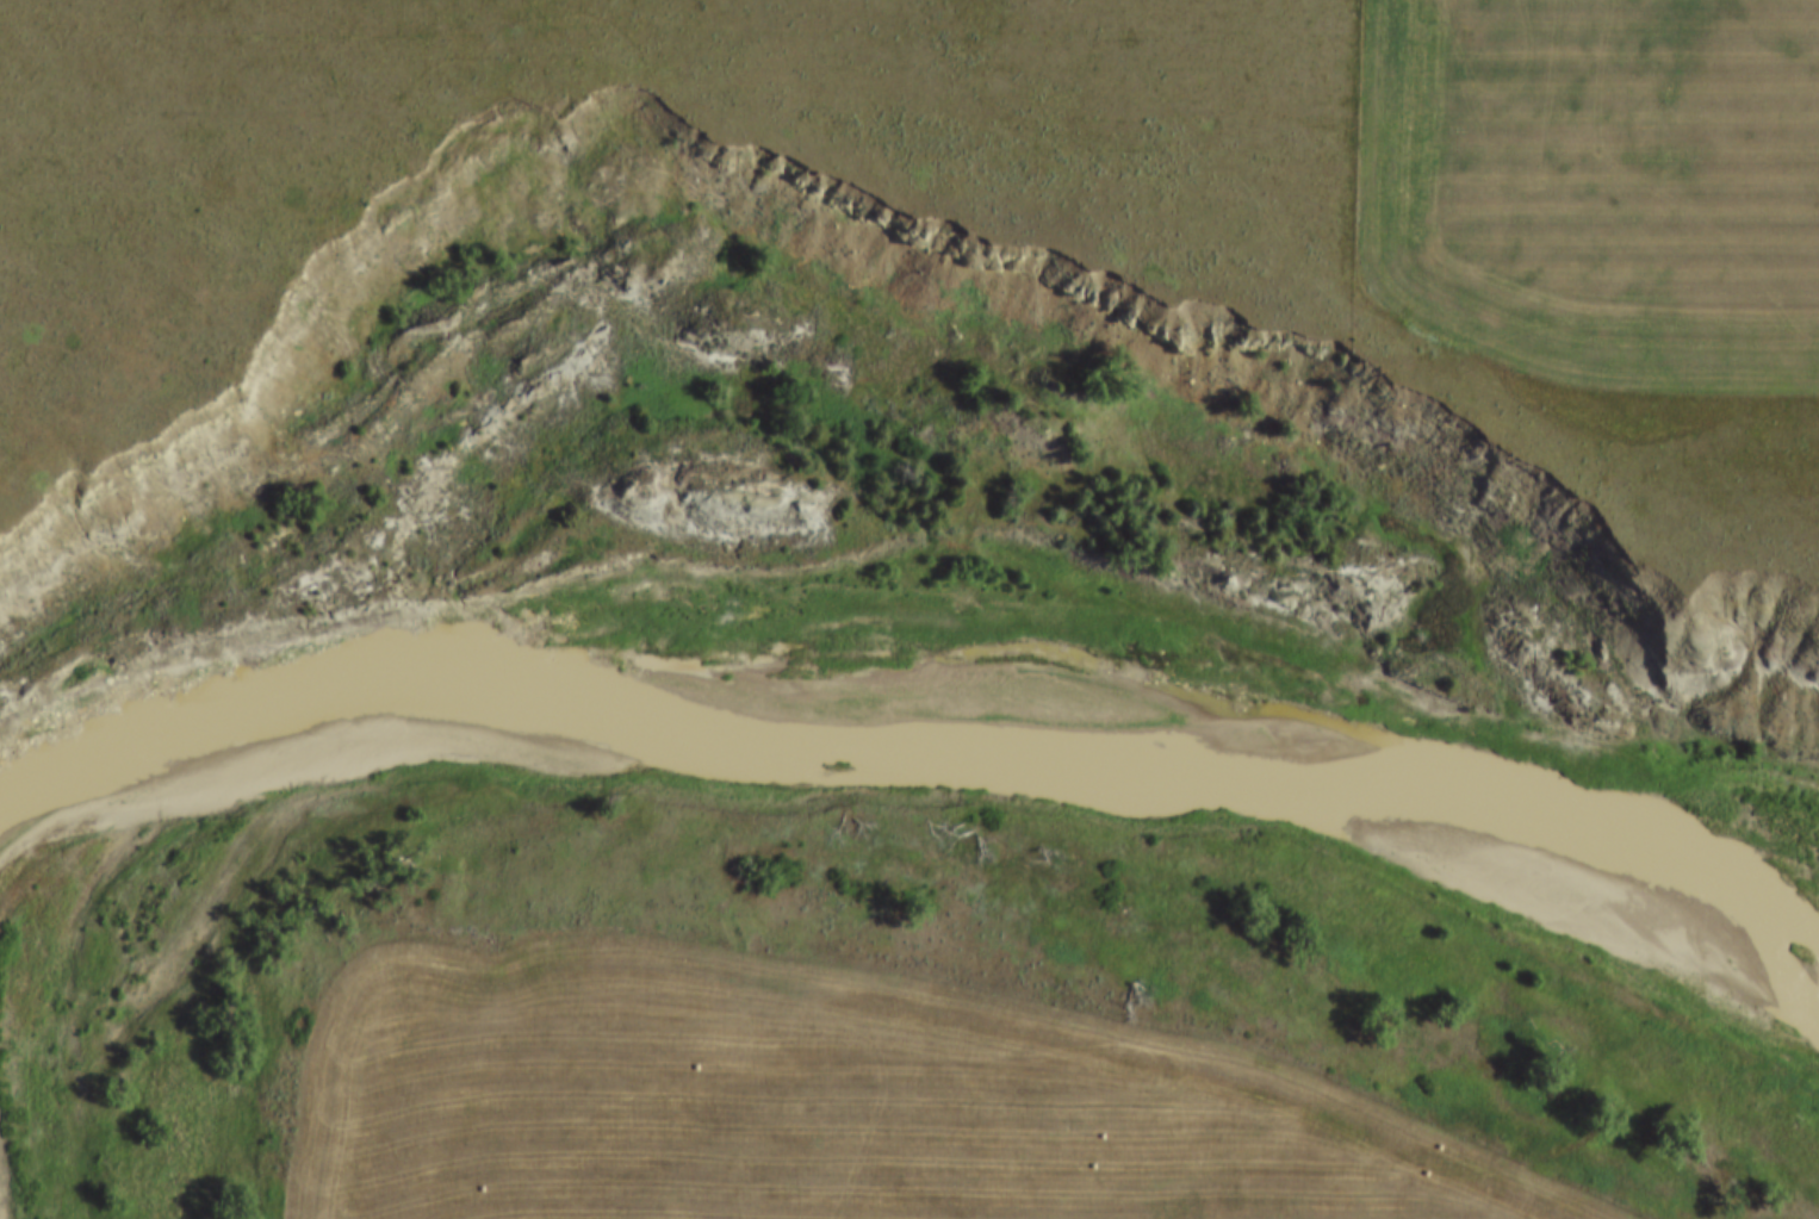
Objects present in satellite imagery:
river: (913, 717)

